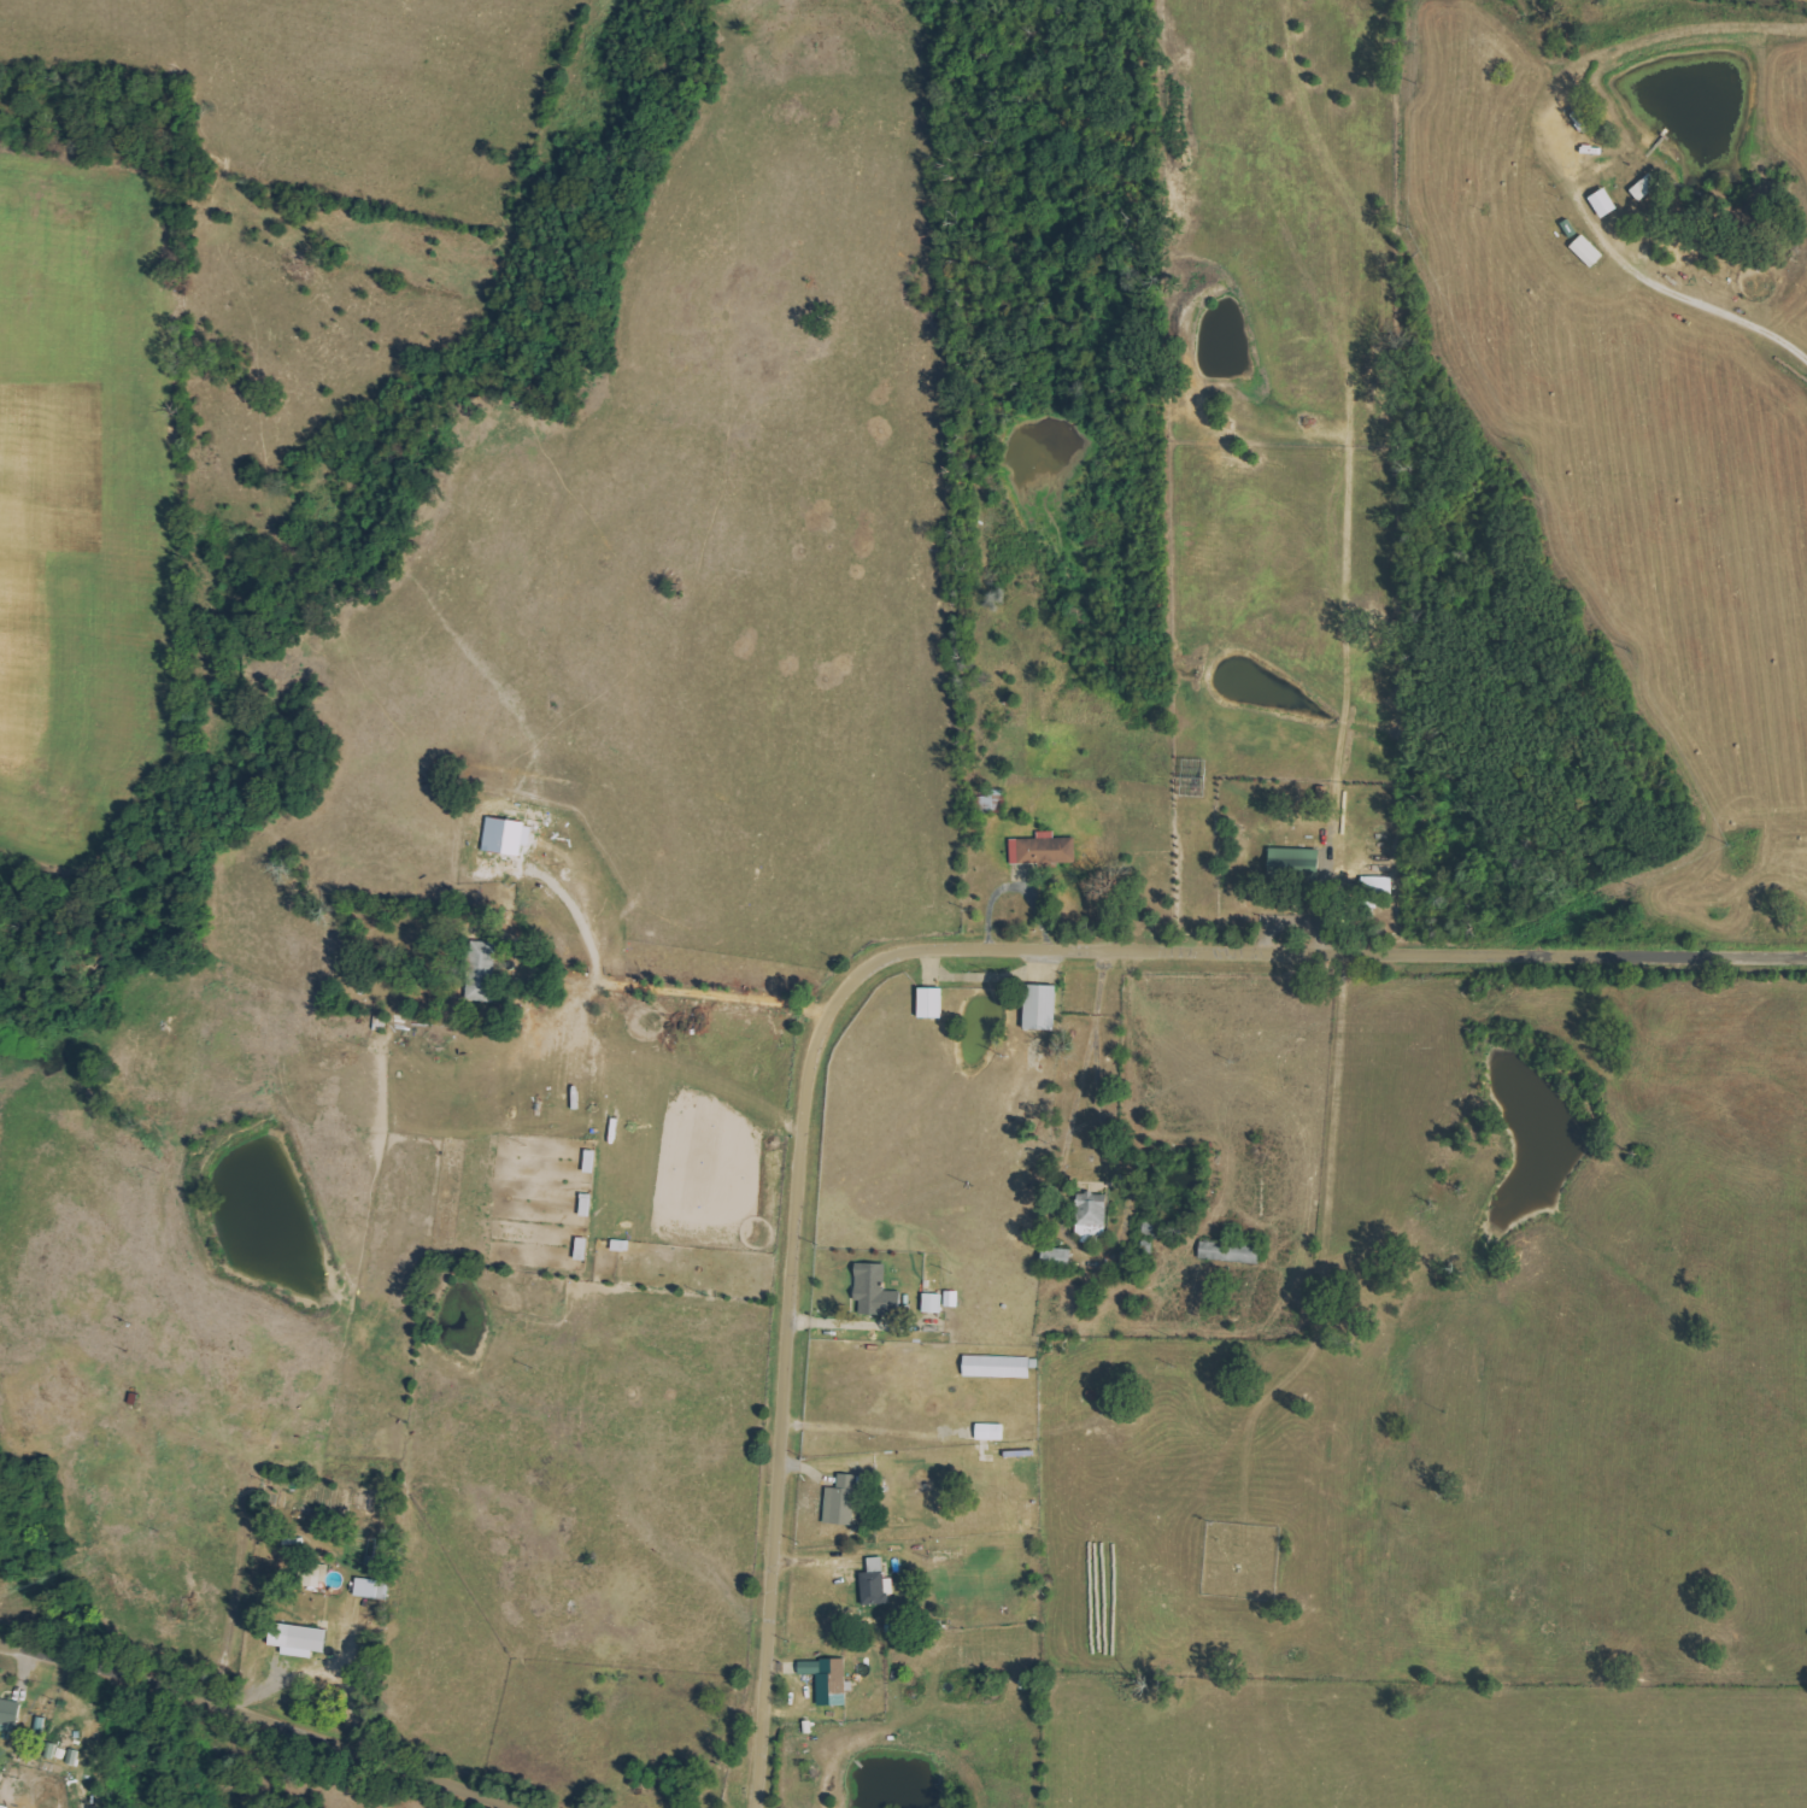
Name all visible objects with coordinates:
power tower: (1403, 86)
building: (1606, 202)
power tower: (1400, 227)
building: (1589, 251)
road: (1695, 295)
power tower: (1513, 444)
power tower: (1619, 653)
building: (510, 837)
power tower: (1717, 846)
building: (1045, 850)
building: (1296, 858)
building: (1379, 885)
road: (908, 945)
building: (483, 971)
road: (985, 976)
power tower: (1412, 981)
road: (703, 994)
building: (933, 1003)
building: (1043, 1008)
road: (1072, 1132)
power tower: (976, 1187)
building: (1093, 1211)
building: (1232, 1254)
building: (874, 1290)
power tower: (709, 1296)
building: (934, 1303)
road: (866, 1323)
building: (999, 1367)
power tower: (405, 1423)
road: (864, 1431)
building: (992, 1432)
power tower: (266, 1484)
building: (844, 1502)
building: (876, 1584)
building: (301, 1640)
building: (829, 1680)
building: (10, 1716)
road: (237, 1736)
building: (4, 1807)

